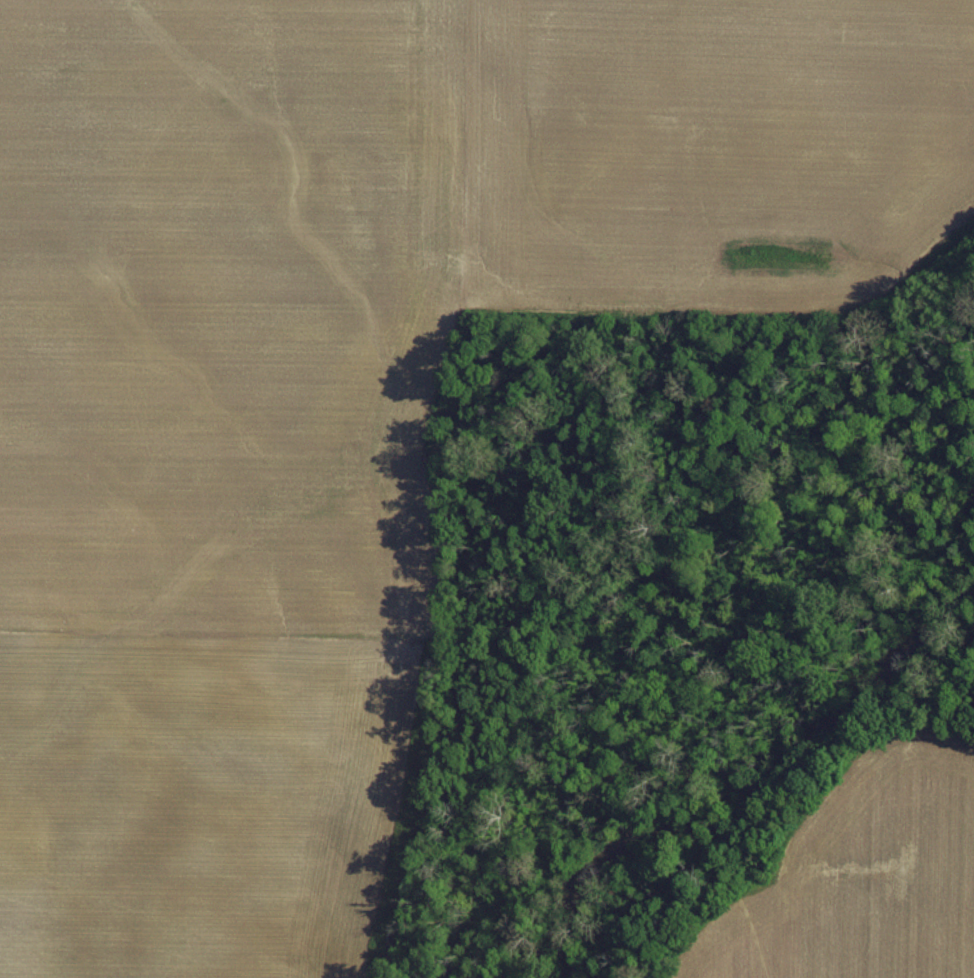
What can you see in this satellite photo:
river: (839, 705)

